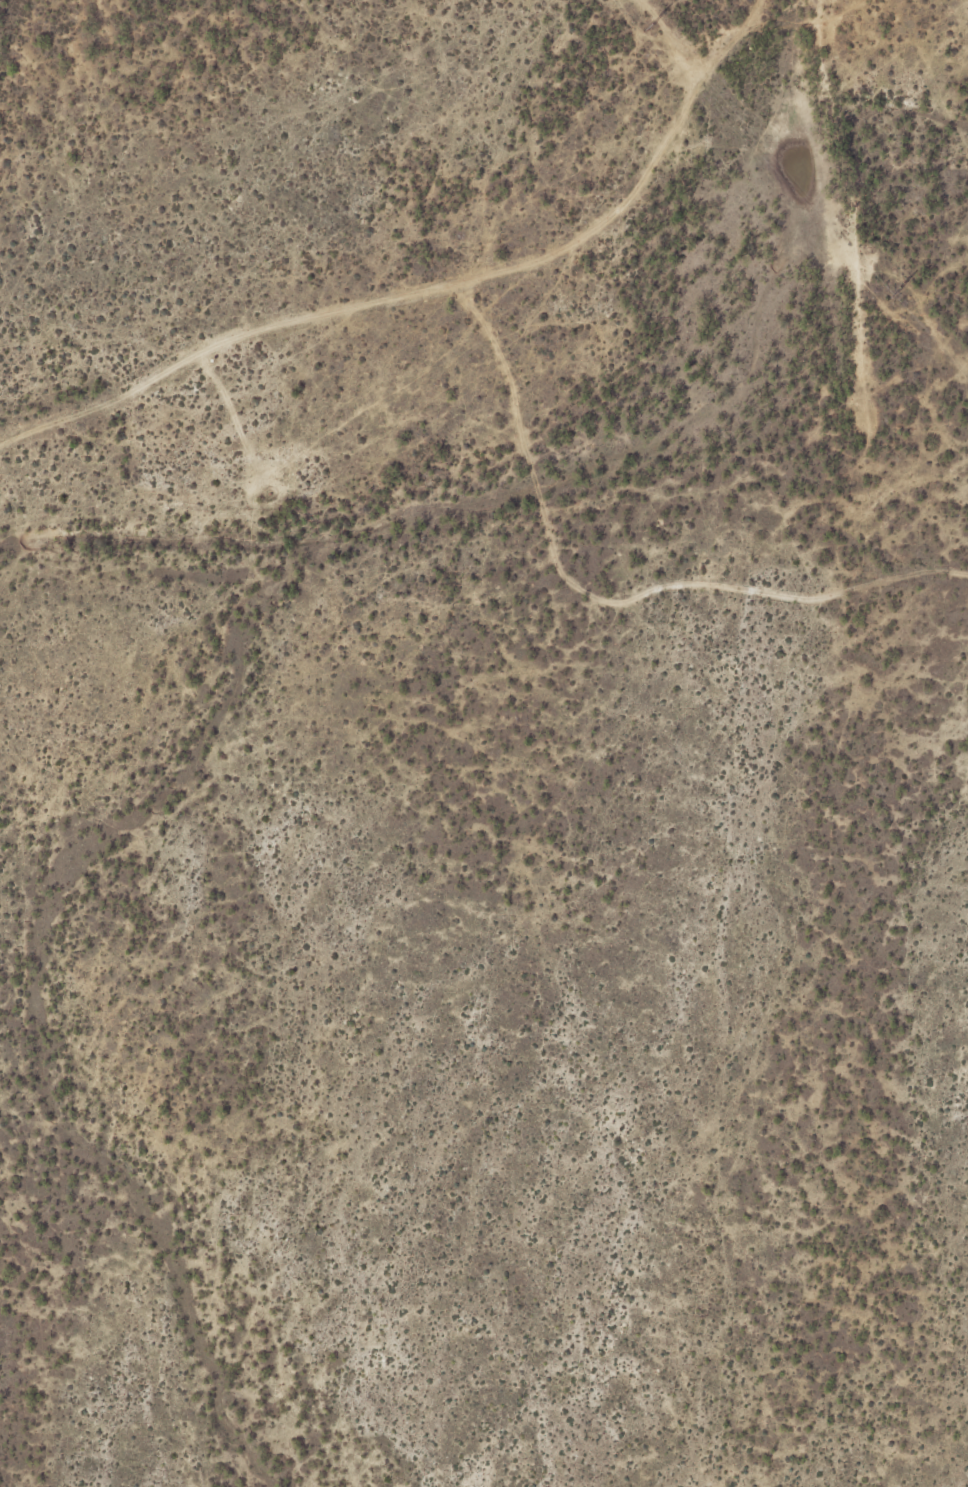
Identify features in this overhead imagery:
power tower: (649, 28)
road: (670, 37)
road: (857, 193)
road: (431, 288)
power tower: (892, 295)
road: (232, 410)
road: (607, 599)

